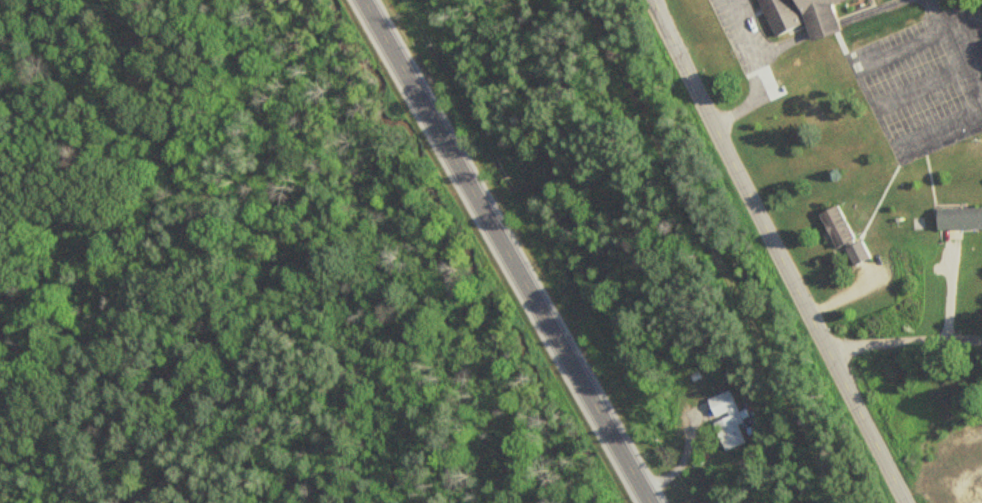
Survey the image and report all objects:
building: (797, 15)
parking lot: (729, 38)
parking lot: (925, 82)
road: (736, 171)
building: (957, 215)
building: (833, 224)
building: (855, 250)
road: (507, 251)
road: (717, 251)
road: (901, 347)
building: (725, 417)
road: (863, 423)
road: (683, 455)

